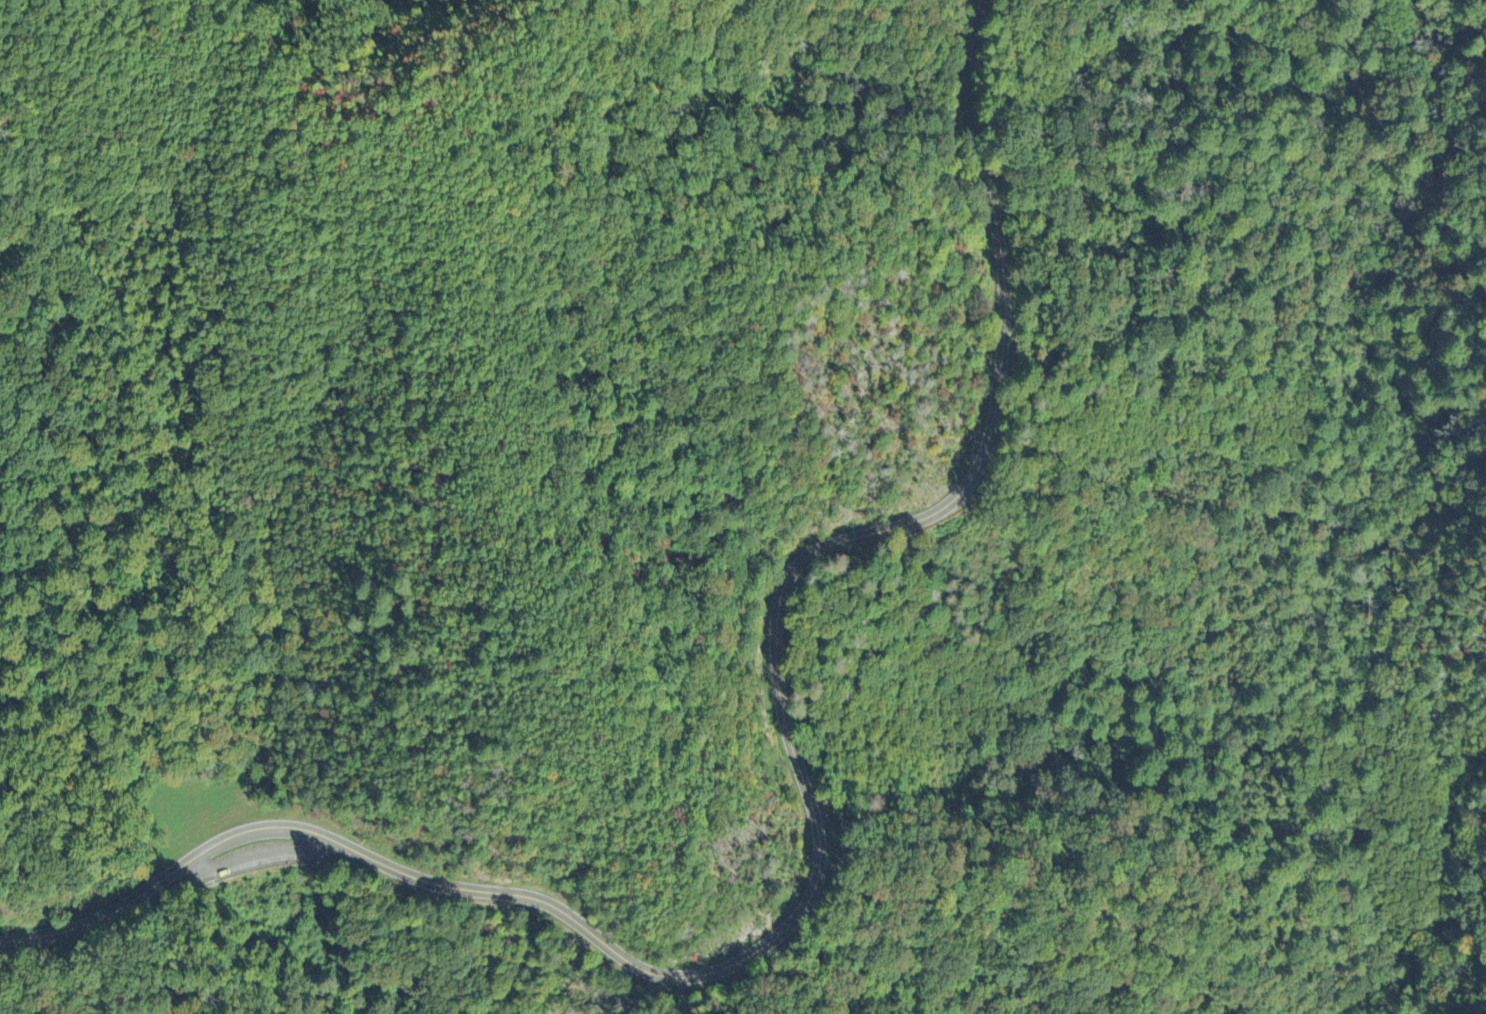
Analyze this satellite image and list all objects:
road: (816, 833)
road: (257, 854)
parking lot: (259, 854)
parking lot: (247, 861)
road: (155, 928)

